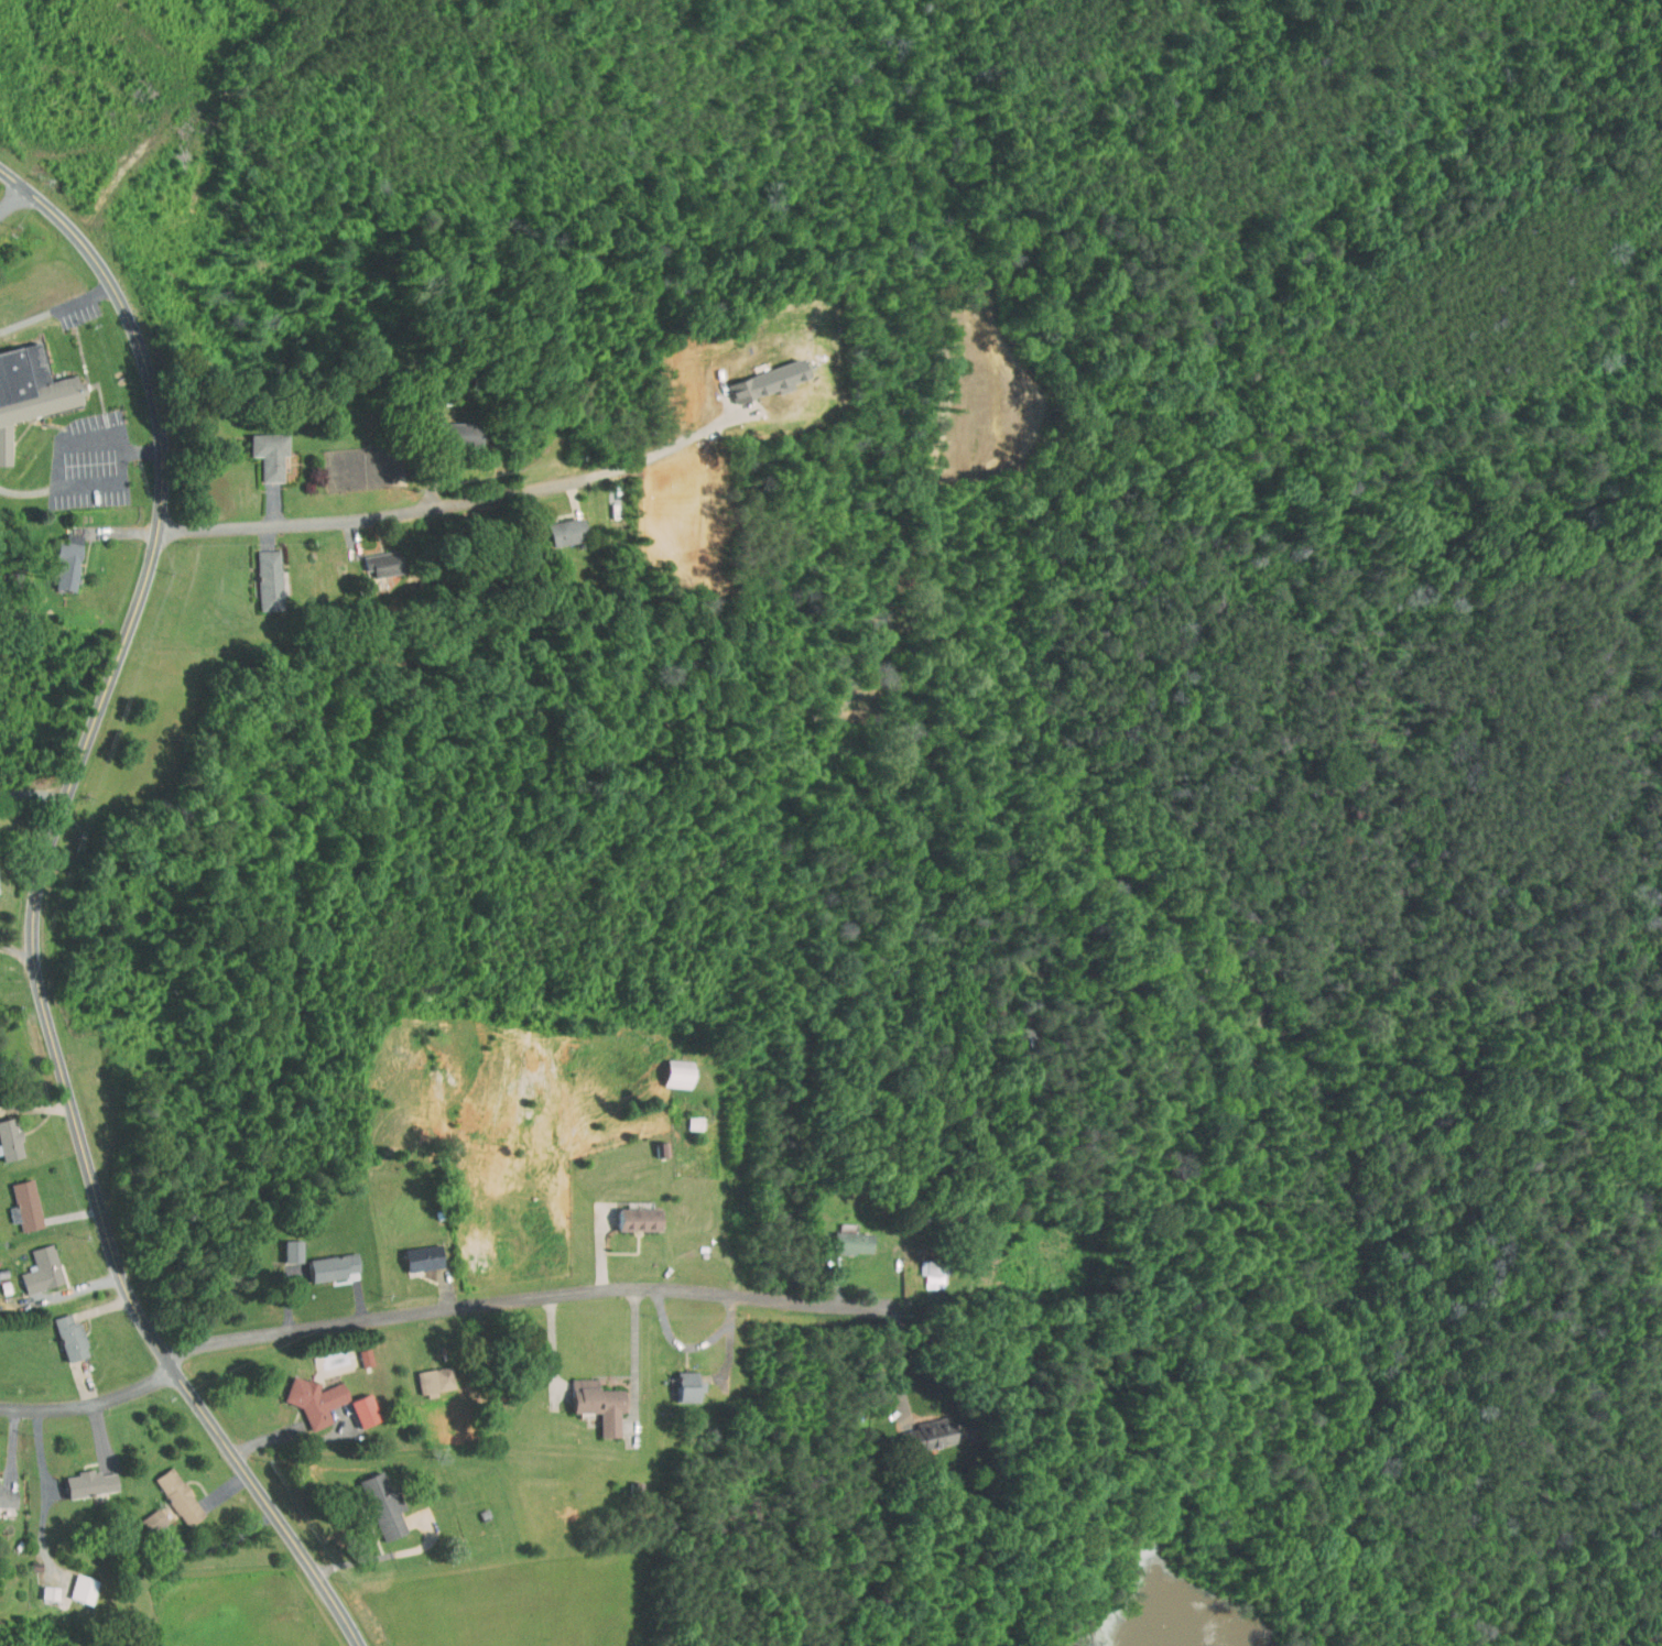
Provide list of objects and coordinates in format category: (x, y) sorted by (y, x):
road: (11, 199)
road: (57, 307)
building: (768, 369)
building: (29, 379)
building: (448, 426)
road: (79, 442)
building: (1, 446)
road: (663, 446)
building: (260, 447)
road: (97, 484)
road: (379, 515)
building: (551, 526)
building: (57, 556)
building: (372, 556)
building: (259, 573)
road: (39, 786)
road: (46, 908)
road: (7, 944)
road: (7, 948)
road: (28, 956)
building: (669, 1067)
building: (4, 1134)
building: (15, 1199)
building: (630, 1212)
building: (841, 1236)
building: (282, 1244)
building: (413, 1251)
building: (323, 1261)
building: (32, 1264)
building: (923, 1266)
road: (72, 1291)
road: (529, 1297)
building: (61, 1332)
road: (694, 1347)
road: (555, 1348)
road: (638, 1348)
building: (355, 1351)
road: (894, 1359)
building: (425, 1374)
building: (678, 1381)
building: (305, 1394)
building: (588, 1398)
road: (95, 1402)
building: (355, 1404)
building: (920, 1427)
road: (301, 1435)
building: (79, 1476)
road: (50, 1491)
building: (169, 1491)
building: (3, 1492)
building: (373, 1500)
building: (142, 1514)
road: (225, 1543)
road: (397, 1551)
building: (73, 1582)
building: (39, 1587)

